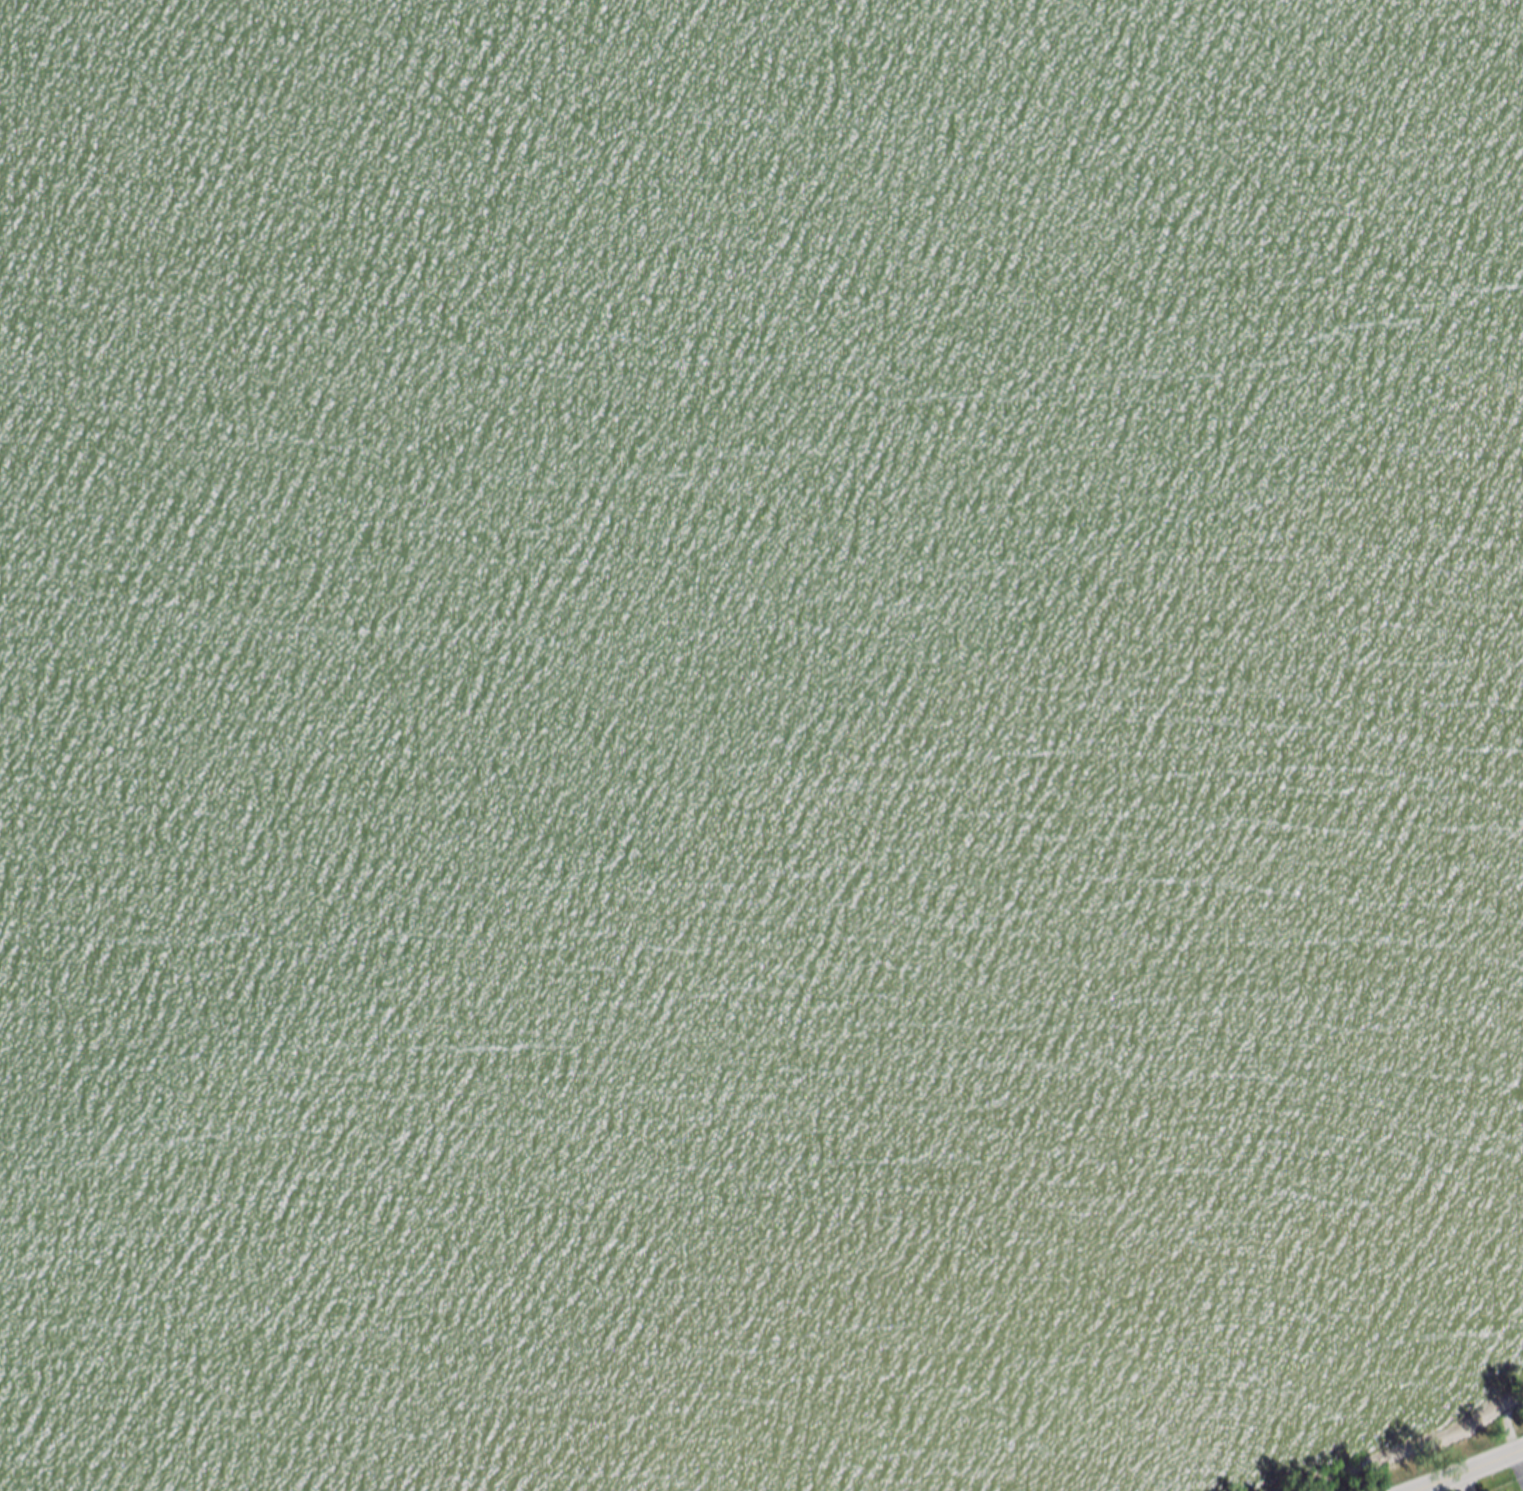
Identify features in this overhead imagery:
building: (1372, 1471)
road: (1474, 1471)

